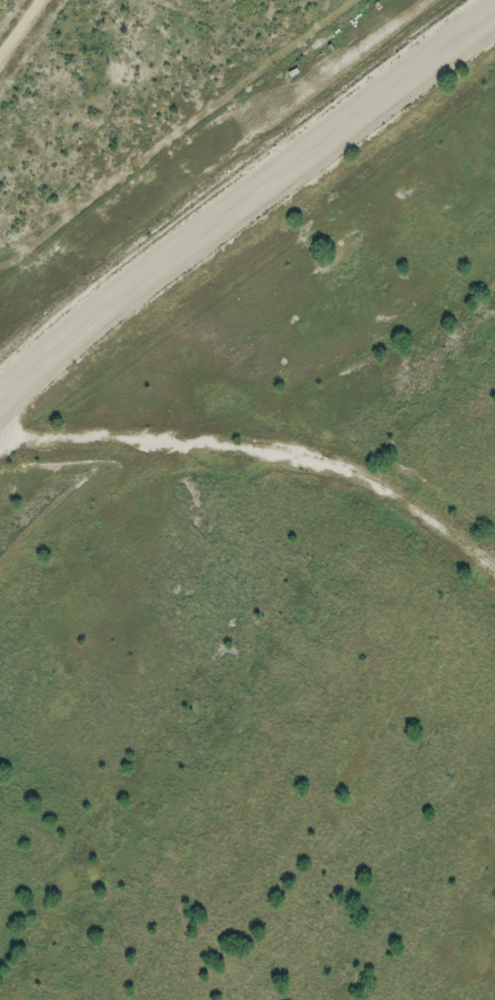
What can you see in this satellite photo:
road: (20, 29)
road: (246, 197)
quarry: (263, 556)

